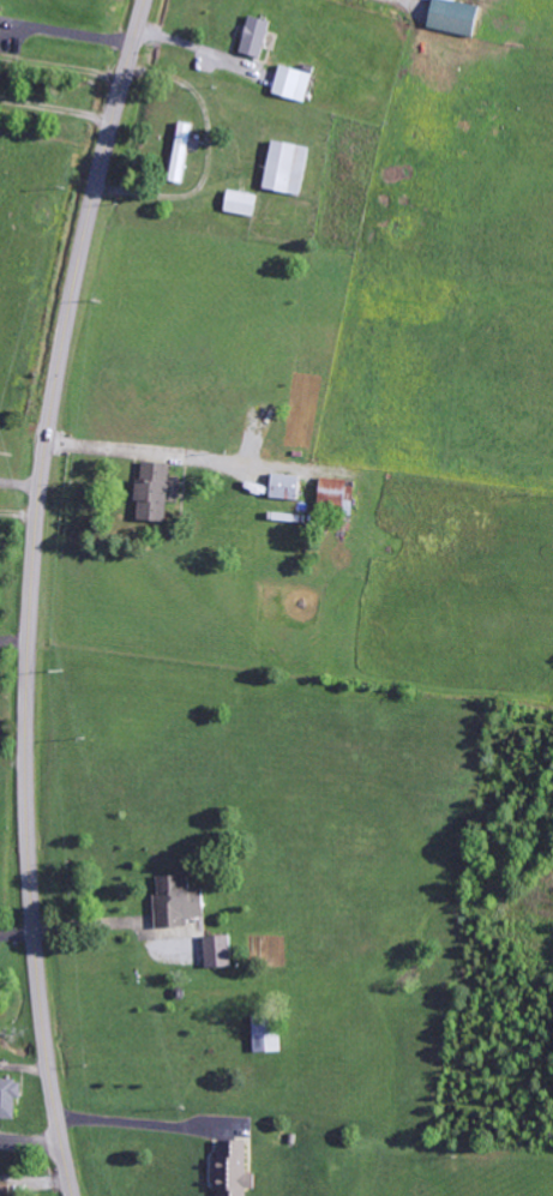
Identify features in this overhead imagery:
building: (455, 17)
building: (257, 36)
building: (294, 83)
building: (182, 152)
building: (288, 168)
building: (242, 203)
building: (287, 487)
building: (155, 492)
building: (337, 495)
road: (34, 593)
building: (179, 902)
building: (220, 951)
building: (10, 1098)
road: (31, 1143)
building: (234, 1170)
building: (6, 1191)

